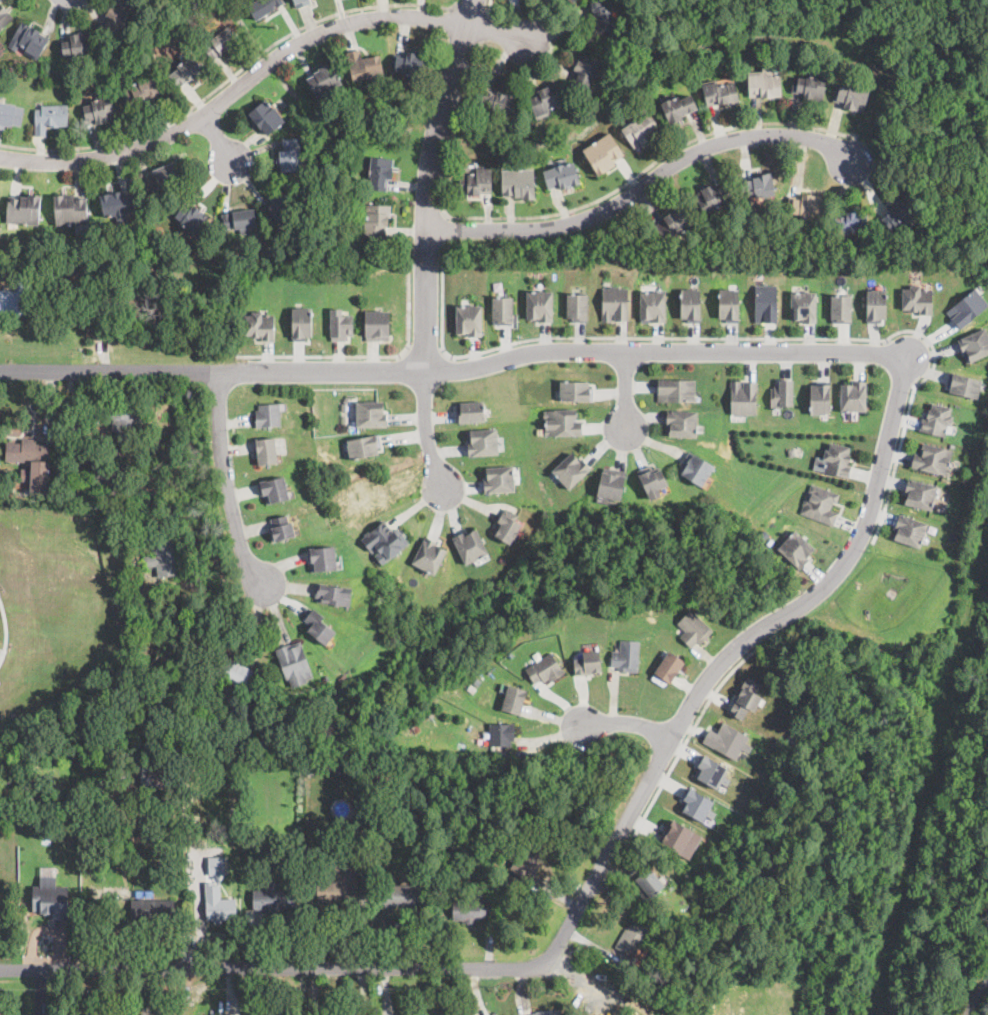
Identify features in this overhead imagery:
building: (572, 1)
building: (300, 2)
building: (263, 7)
road: (472, 10)
road: (490, 10)
building: (4, 17)
building: (118, 17)
building: (600, 17)
building: (185, 24)
road: (487, 29)
building: (28, 40)
building: (221, 43)
building: (76, 44)
building: (409, 63)
building: (363, 65)
road: (260, 70)
building: (586, 70)
building: (187, 71)
road: (231, 77)
building: (324, 79)
building: (764, 84)
building: (809, 88)
building: (140, 92)
building: (720, 93)
building: (851, 98)
building: (546, 99)
building: (499, 101)
building: (678, 108)
building: (98, 109)
building: (10, 114)
building: (50, 117)
building: (266, 117)
building: (640, 130)
road: (218, 137)
building: (603, 153)
building: (290, 155)
building: (381, 173)
building: (161, 176)
building: (563, 176)
building: (474, 181)
building: (519, 183)
road: (647, 185)
building: (758, 185)
building: (712, 197)
building: (279, 203)
building: (117, 206)
building: (805, 206)
building: (24, 210)
building: (69, 210)
road: (566, 211)
building: (899, 212)
building: (190, 217)
building: (239, 220)
building: (375, 221)
building: (849, 223)
building: (673, 224)
road: (443, 229)
road: (428, 240)
building: (272, 252)
building: (21, 269)
building: (16, 295)
building: (917, 299)
building: (119, 302)
building: (615, 303)
building: (728, 303)
building: (766, 303)
building: (540, 304)
building: (690, 304)
building: (876, 304)
building: (652, 305)
building: (803, 305)
building: (577, 306)
building: (841, 307)
building: (967, 307)
building: (502, 310)
building: (469, 319)
building: (301, 321)
building: (340, 323)
building: (259, 324)
building: (378, 325)
road: (743, 337)
building: (974, 343)
road: (562, 349)
road: (424, 351)
road: (364, 356)
road: (110, 371)
building: (965, 384)
road: (626, 388)
building: (576, 389)
building: (676, 389)
building: (783, 393)
building: (853, 395)
building: (744, 397)
building: (821, 397)
building: (470, 410)
building: (370, 413)
building: (267, 414)
building: (123, 419)
building: (937, 419)
building: (561, 421)
building: (682, 422)
building: (482, 441)
building: (363, 445)
building: (266, 449)
building: (27, 451)
building: (838, 458)
building: (933, 458)
building: (696, 468)
building: (571, 469)
building: (57, 474)
building: (111, 474)
building: (499, 478)
building: (652, 479)
road: (226, 480)
building: (612, 482)
building: (273, 488)
building: (920, 493)
building: (820, 502)
building: (508, 526)
building: (281, 528)
building: (910, 530)
building: (385, 541)
building: (470, 545)
building: (797, 548)
building: (429, 555)
building: (323, 556)
building: (163, 558)
building: (132, 573)
building: (333, 592)
road: (785, 613)
building: (319, 626)
building: (694, 627)
road: (5, 629)
building: (626, 655)
building: (294, 661)
building: (588, 662)
building: (669, 666)
building: (545, 668)
building: (233, 672)
building: (471, 688)
building: (746, 698)
building: (514, 699)
road: (628, 722)
building: (501, 733)
road: (688, 736)
building: (728, 739)
building: (504, 766)
building: (309, 769)
building: (710, 770)
building: (121, 772)
building: (155, 777)
building: (382, 777)
building: (8, 787)
building: (37, 790)
park: (886, 798)
building: (695, 803)
building: (256, 827)
building: (359, 832)
building: (680, 838)
building: (109, 851)
building: (531, 857)
building: (215, 863)
building: (644, 877)
building: (116, 883)
building: (339, 884)
building: (400, 897)
building: (273, 899)
building: (51, 901)
building: (218, 903)
building: (152, 909)
building: (469, 910)
building: (632, 936)
road: (340, 969)
road: (973, 993)
building: (666, 1006)
building: (547, 1012)
building: (664, 1013)
building: (673, 1014)

